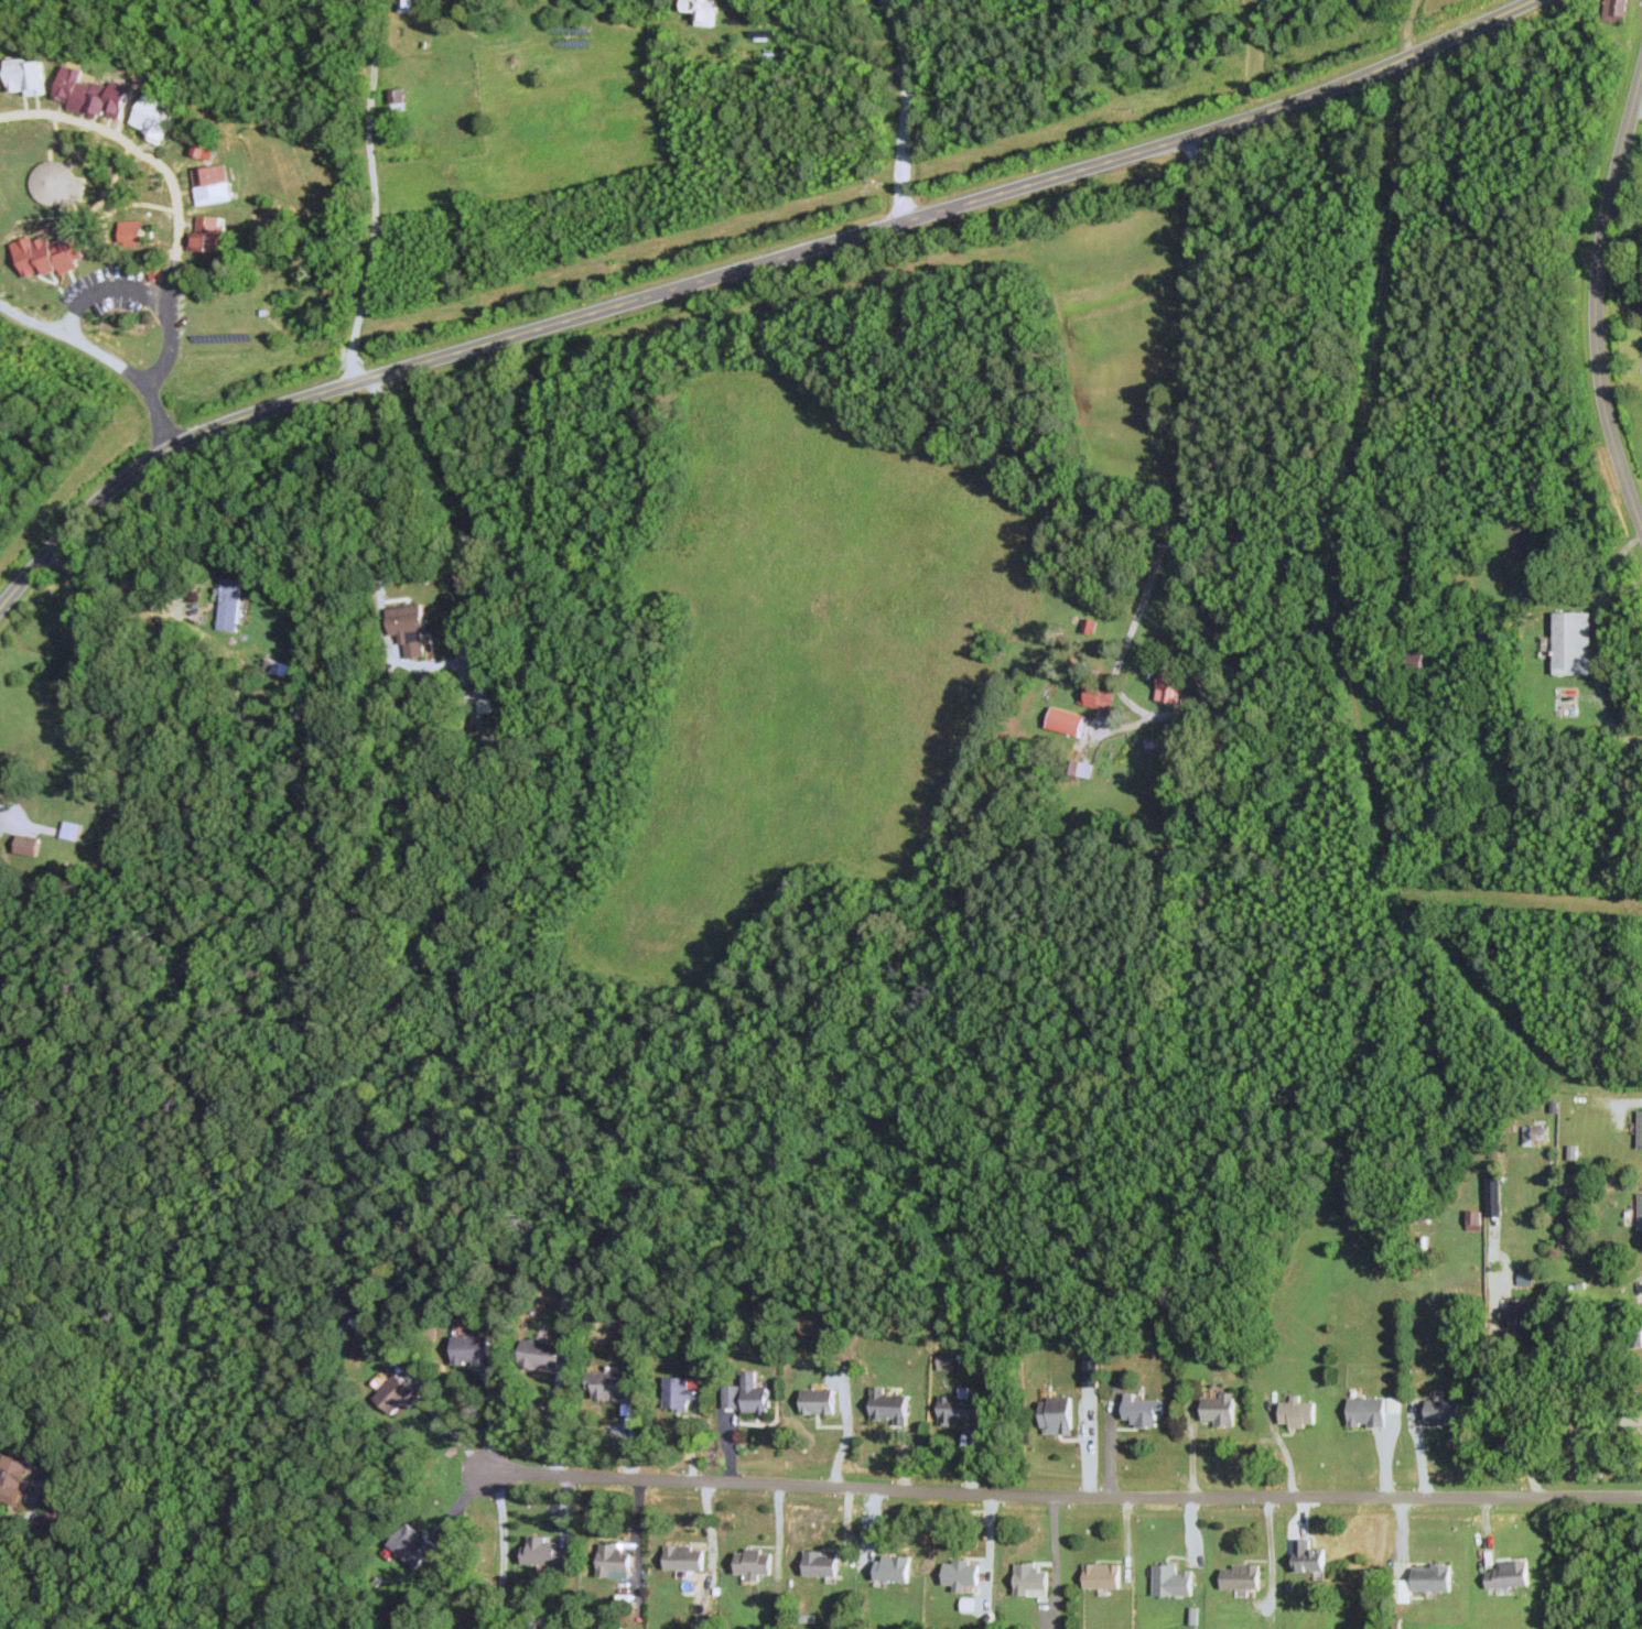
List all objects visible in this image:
building: (699, 4)
building: (406, 6)
building: (1614, 11)
building: (723, 37)
building: (52, 66)
building: (397, 99)
road: (905, 107)
road: (1636, 110)
building: (203, 150)
road: (372, 191)
road: (171, 196)
building: (132, 232)
road: (741, 267)
road: (104, 293)
road: (1596, 294)
road: (101, 357)
road: (1155, 566)
building: (229, 604)
road: (154, 605)
building: (406, 623)
building: (1090, 626)
building: (1573, 643)
road: (389, 644)
building: (1415, 663)
building: (1169, 684)
building: (1094, 697)
building: (1065, 721)
building: (1497, 822)
road: (29, 824)
building: (71, 832)
building: (25, 846)
road: (1627, 1101)
building: (1640, 1130)
building: (1535, 1136)
building: (1640, 1213)
building: (1474, 1220)
building: (1517, 1315)
building: (471, 1350)
building: (539, 1355)
road: (1491, 1365)
building: (609, 1384)
building: (678, 1393)
building: (393, 1394)
building: (754, 1394)
building: (731, 1398)
building: (818, 1402)
building: (889, 1407)
building: (1219, 1410)
building: (960, 1411)
building: (1142, 1412)
building: (1366, 1412)
building: (1443, 1412)
building: (1297, 1413)
building: (1056, 1415)
road: (491, 1418)
road: (559, 1421)
road: (449, 1424)
building: (13, 1478)
road: (1063, 1494)
building: (412, 1545)
road: (503, 1547)
road: (1266, 1547)
building: (544, 1551)
building: (1308, 1555)
building: (683, 1557)
building: (614, 1560)
building: (753, 1562)
building: (821, 1563)
building: (892, 1568)
building: (961, 1574)
building: (1509, 1574)
building: (1102, 1575)
building: (1241, 1576)
building: (1432, 1577)
building: (1031, 1579)
building: (1167, 1579)

